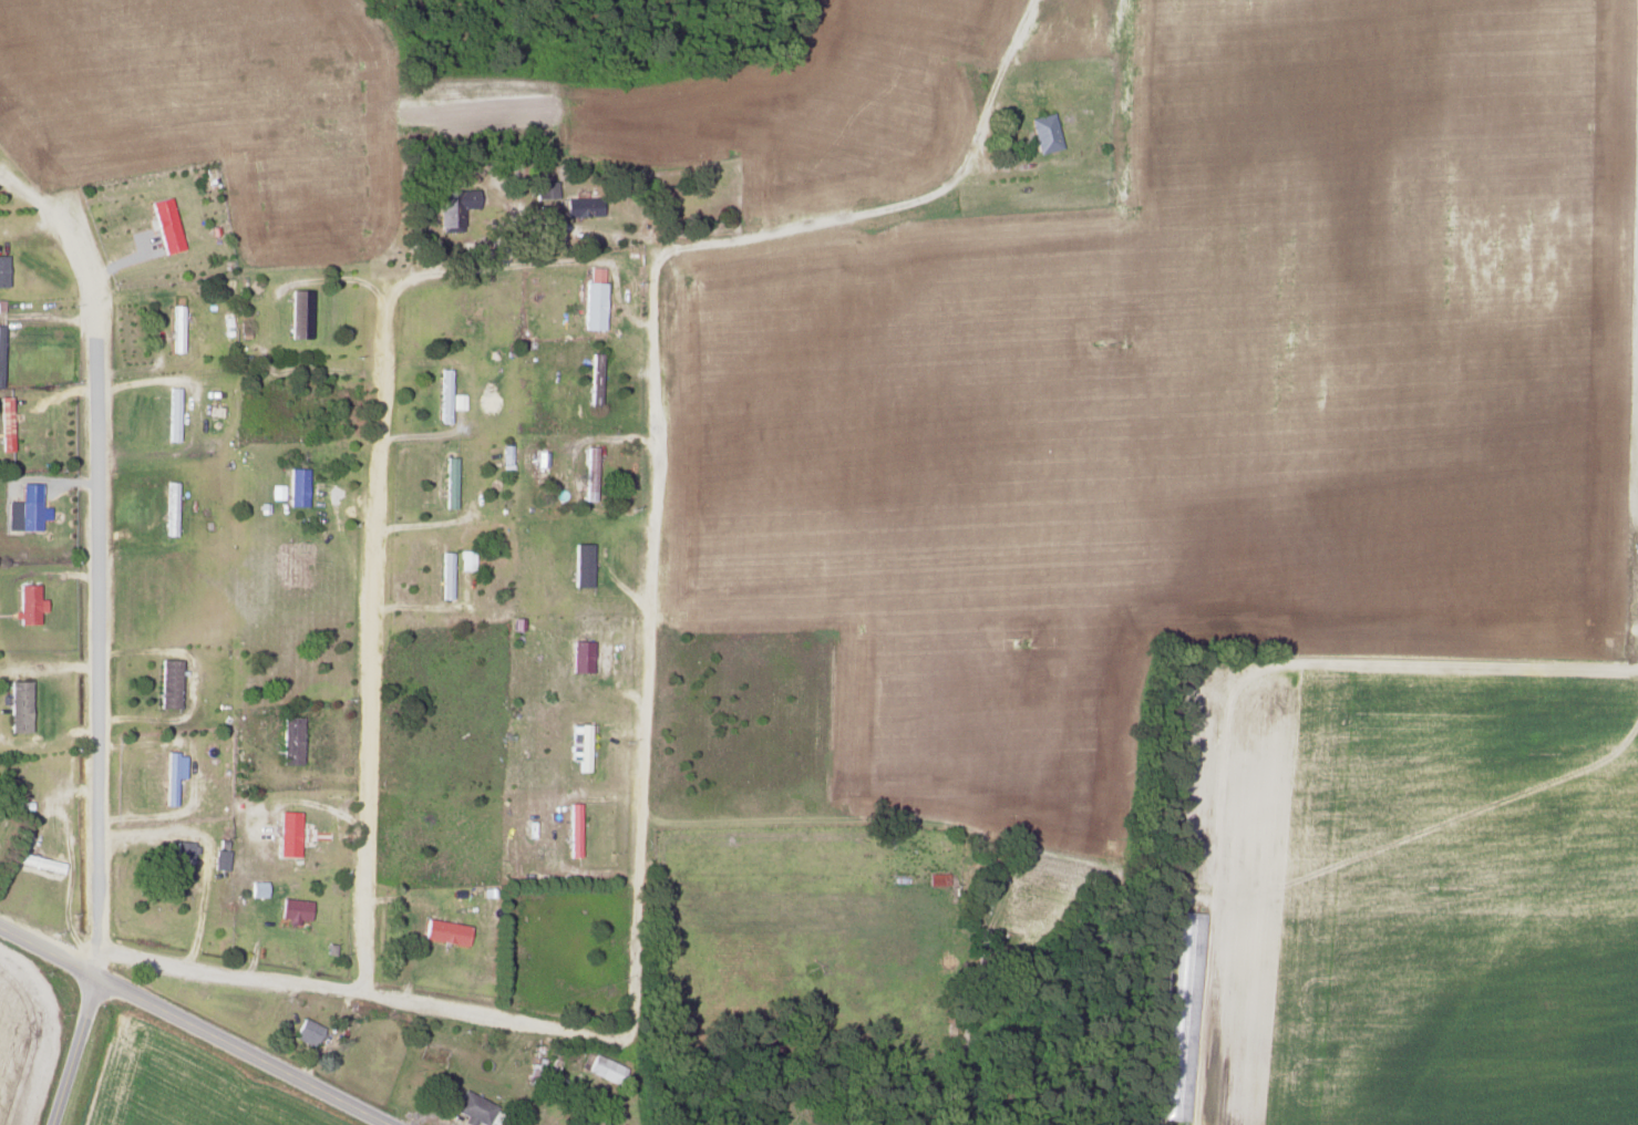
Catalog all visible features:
road: (995, 97)
building: (1043, 132)
building: (545, 188)
building: (581, 206)
building: (454, 207)
building: (164, 224)
building: (2, 270)
building: (595, 273)
building: (593, 305)
building: (299, 313)
building: (175, 328)
building: (0, 372)
building: (594, 376)
building: (444, 395)
building: (488, 403)
building: (172, 413)
building: (4, 424)
building: (505, 453)
building: (449, 482)
building: (296, 486)
building: (276, 491)
road: (650, 497)
building: (23, 508)
building: (466, 559)
building: (581, 565)
building: (445, 575)
road: (97, 577)
building: (25, 603)
road: (370, 633)
building: (579, 657)
building: (167, 683)
building: (18, 705)
building: (289, 740)
building: (579, 745)
building: (172, 774)
building: (571, 829)
building: (287, 834)
building: (219, 859)
building: (182, 860)
building: (38, 863)
building: (937, 879)
building: (257, 888)
building: (292, 910)
building: (444, 932)
building: (1189, 943)
road: (352, 988)
road: (192, 1026)
building: (306, 1032)
road: (71, 1051)
building: (605, 1069)
building: (473, 1108)
building: (601, 1123)
building: (618, 1124)

